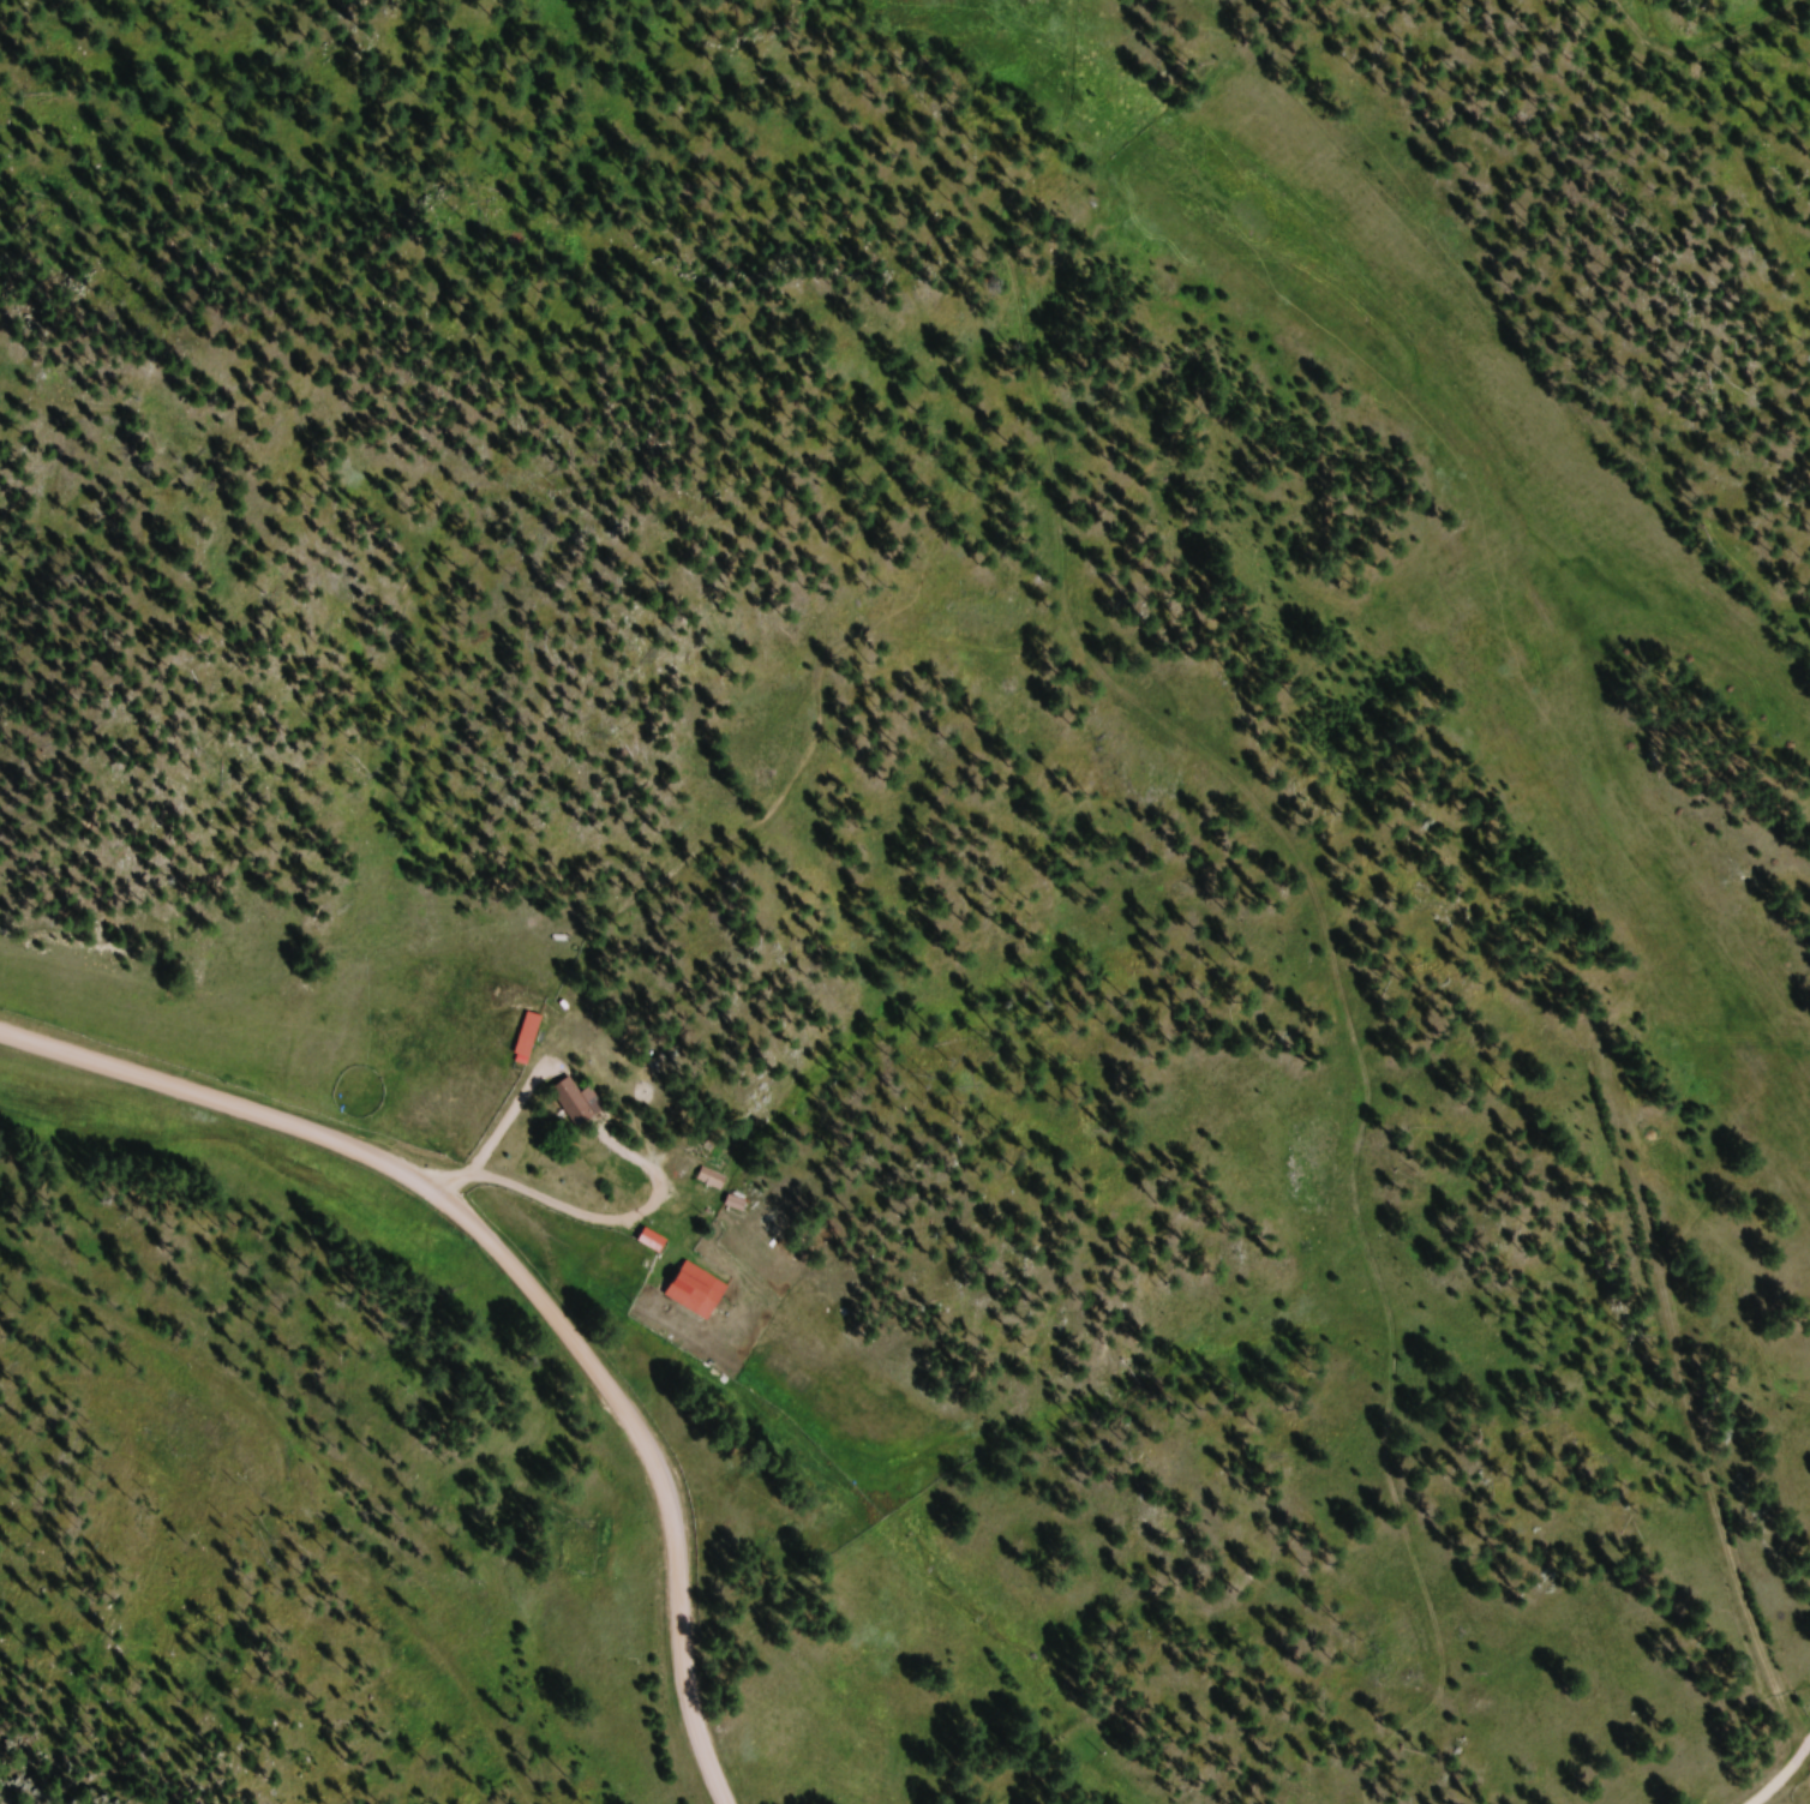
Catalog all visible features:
road: (1697, 40)
road: (1784, 244)
building: (532, 1041)
building: (579, 1104)
building: (658, 1242)
road: (514, 1278)
building: (700, 1293)
road: (1775, 1773)

